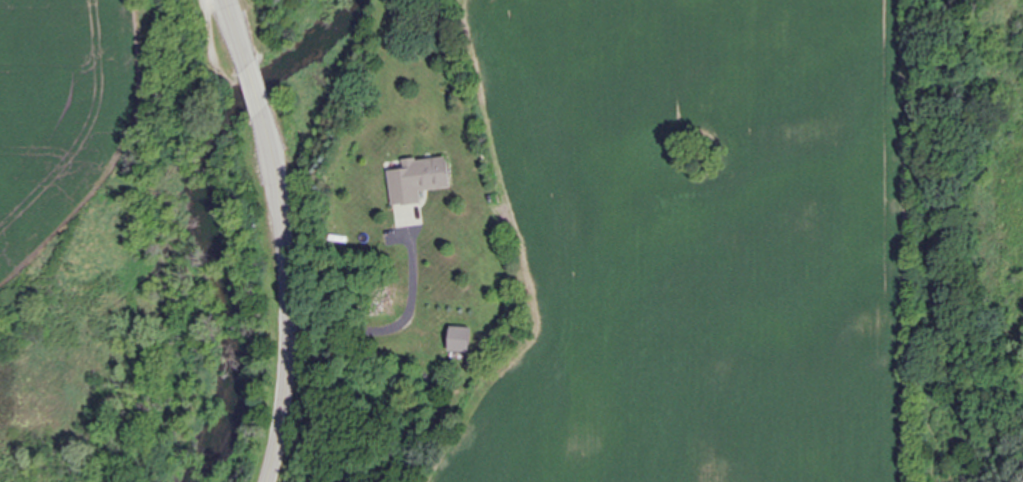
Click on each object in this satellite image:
road: (238, 33)
road: (255, 89)
building: (419, 179)
river: (203, 210)
road: (295, 299)
road: (402, 328)
building: (461, 339)

